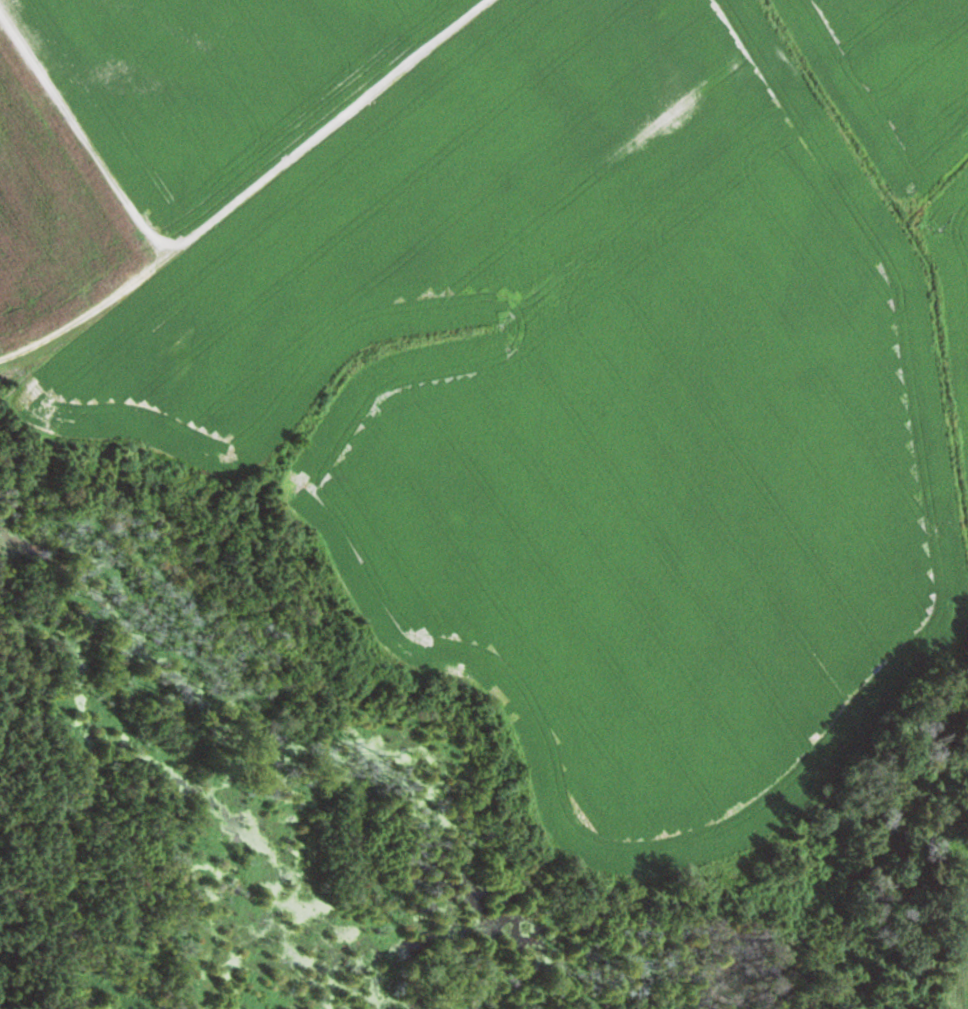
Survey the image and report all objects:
road: (319, 134)

